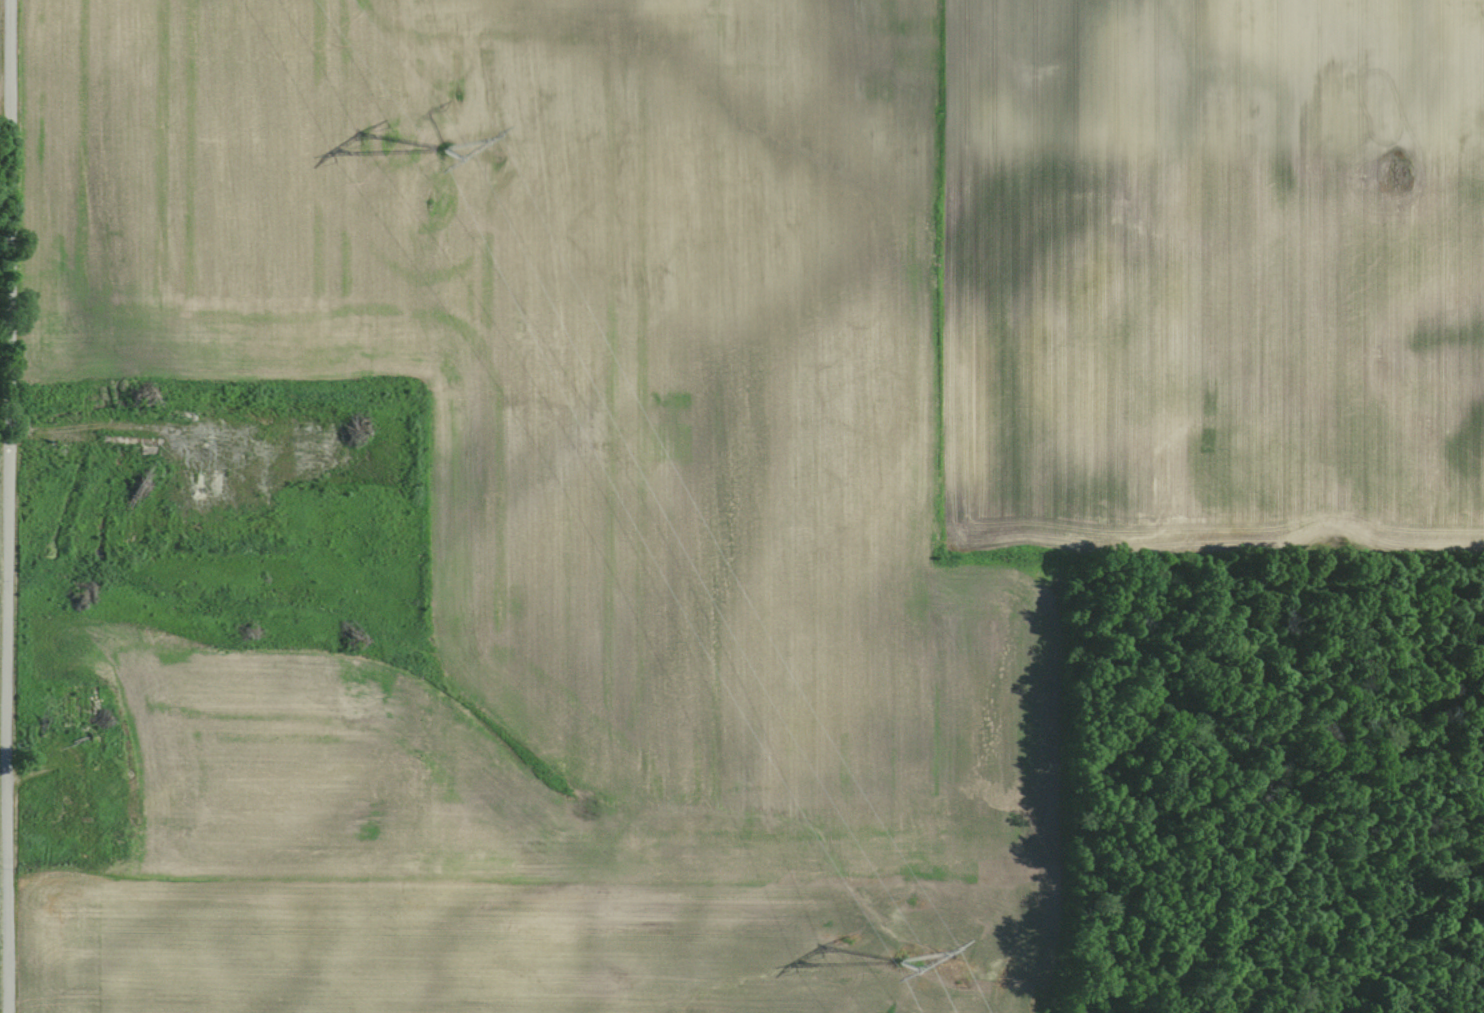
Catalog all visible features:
power tower: (442, 150)
road: (6, 506)
building: (76, 815)
power tower: (900, 961)

